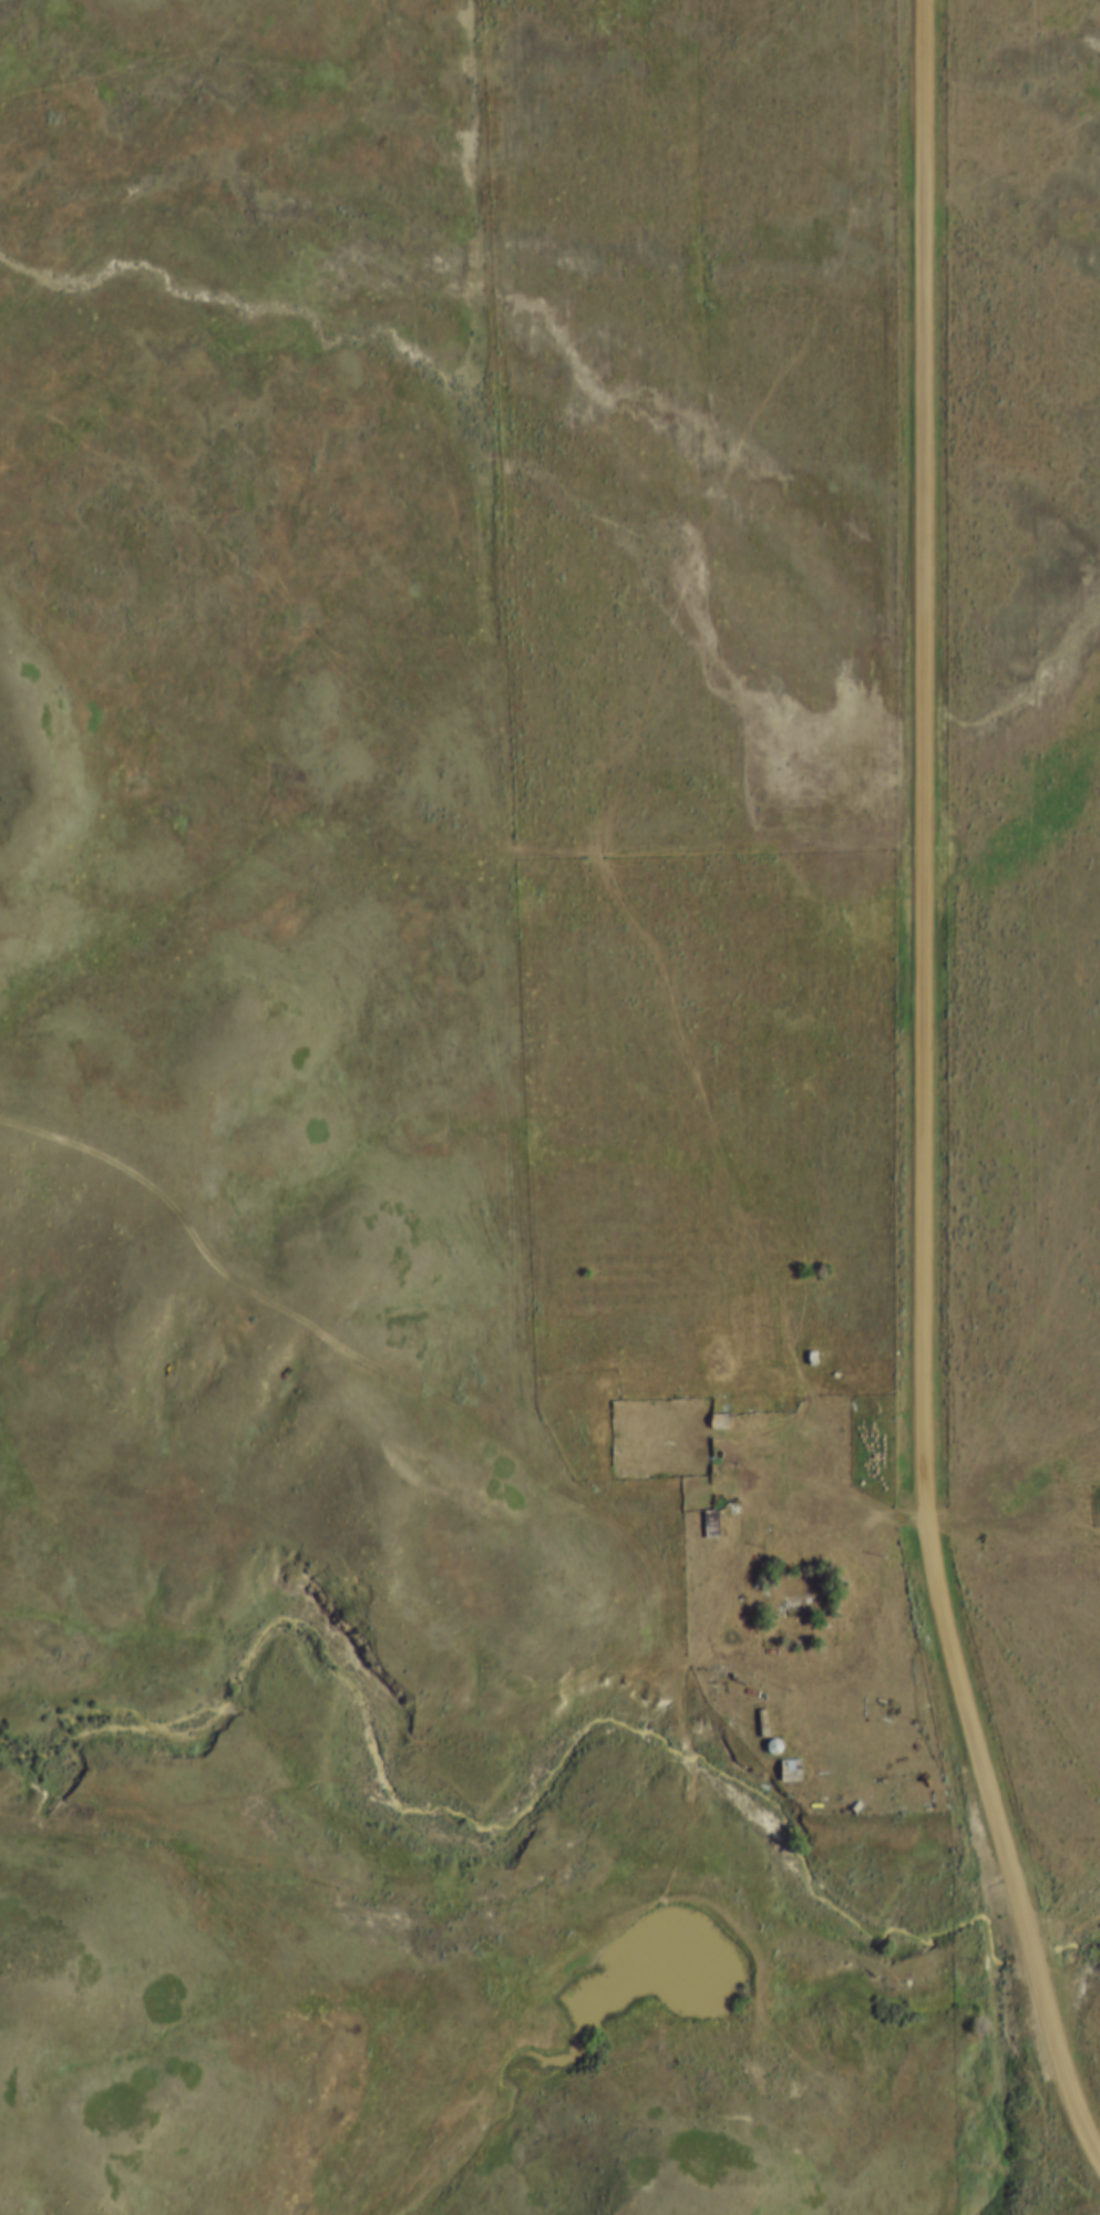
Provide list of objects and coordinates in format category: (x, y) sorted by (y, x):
road: (921, 1104)
road: (503, 1439)
building: (710, 1524)
building: (789, 1771)

